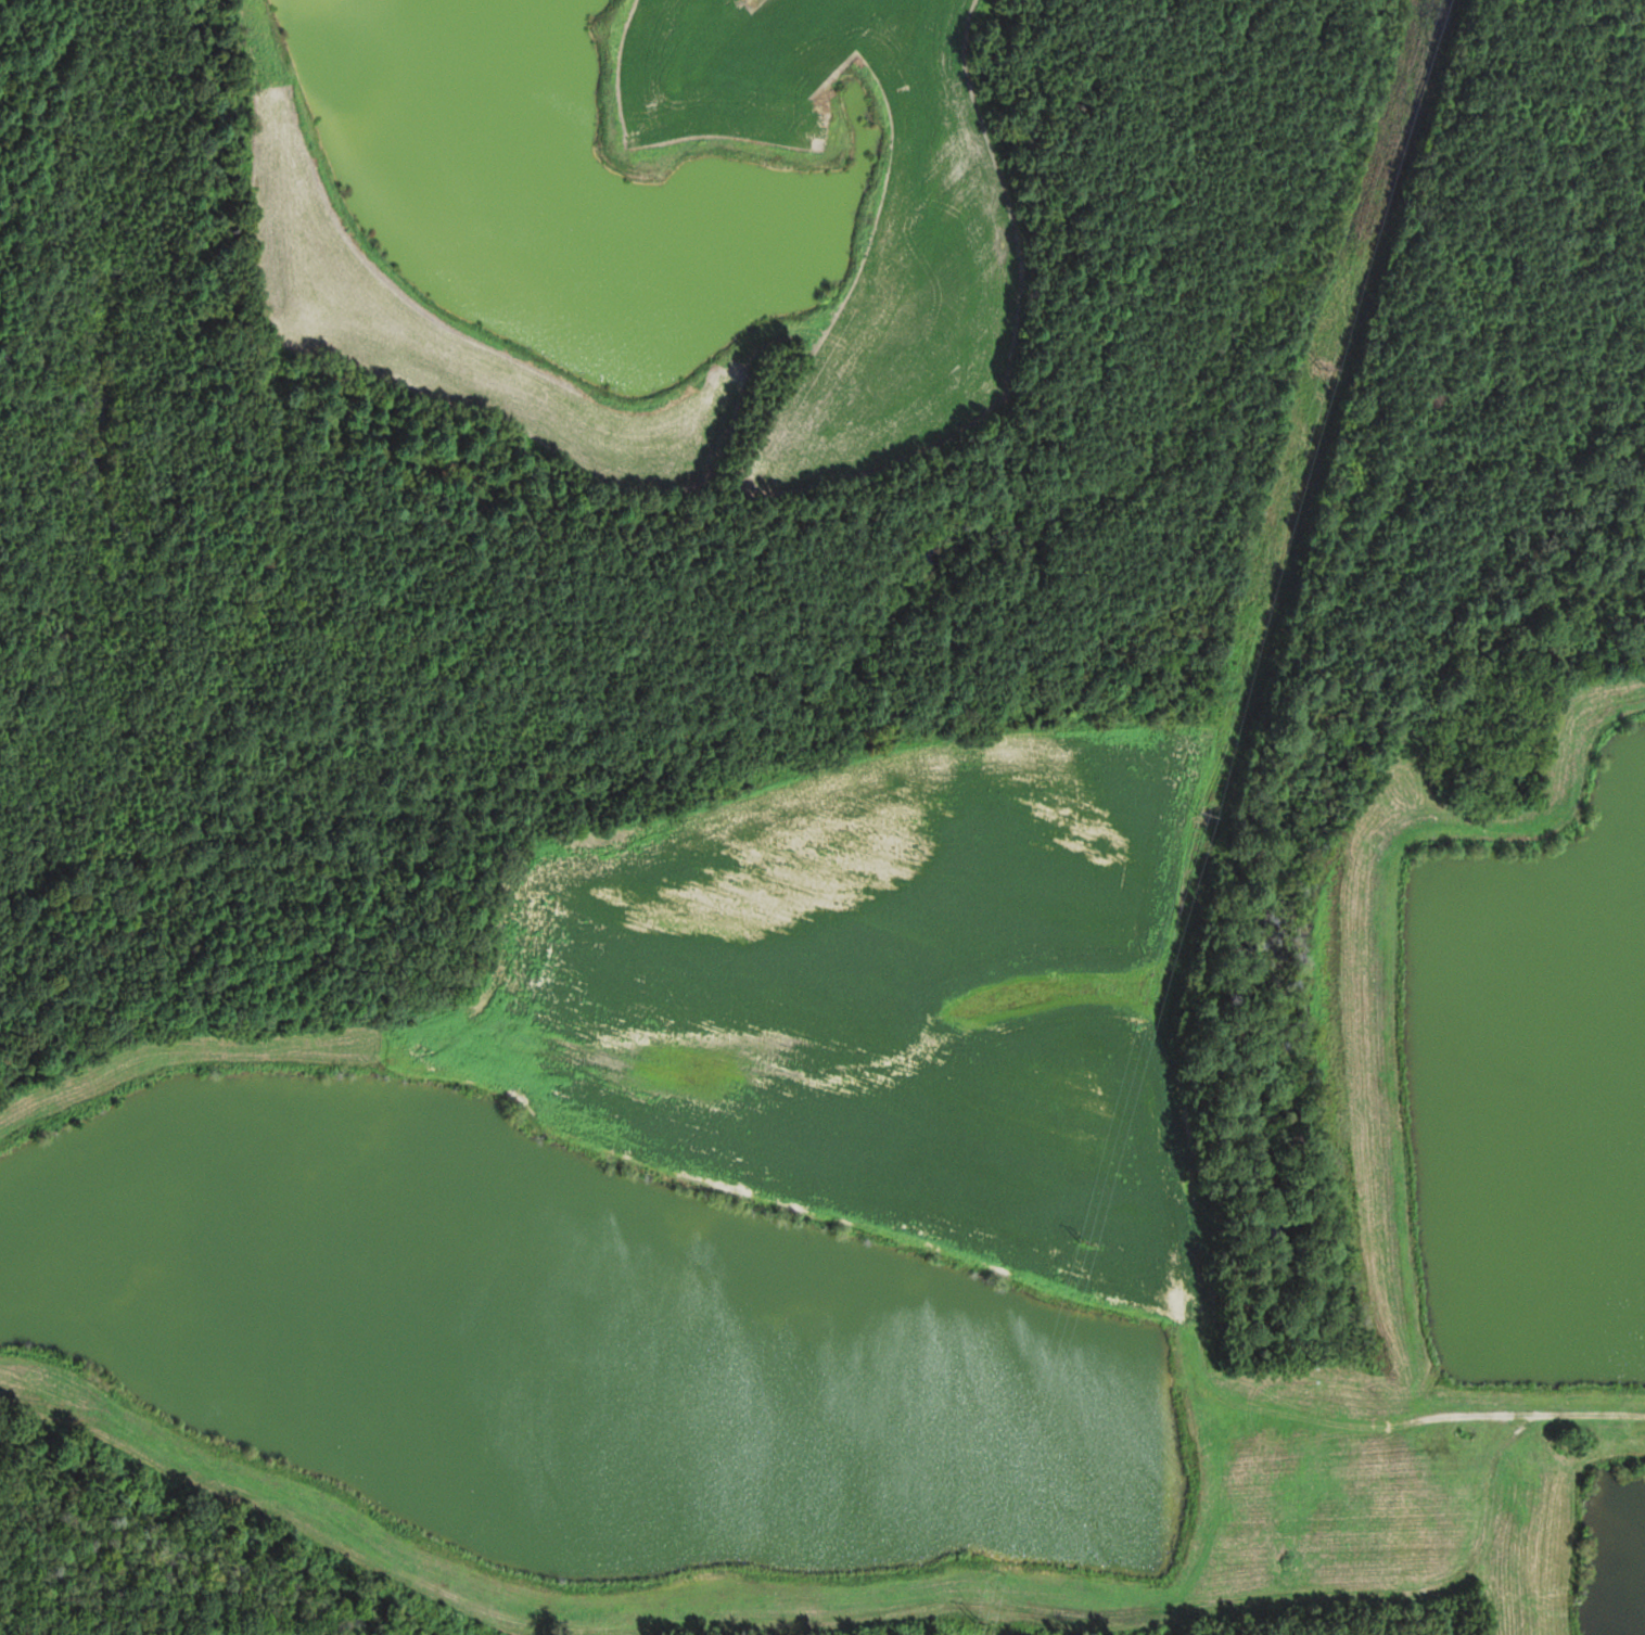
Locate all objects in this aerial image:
power tower: (1323, 368)
power tower: (1199, 813)
power tower: (1091, 1239)
power tower: (989, 1621)

